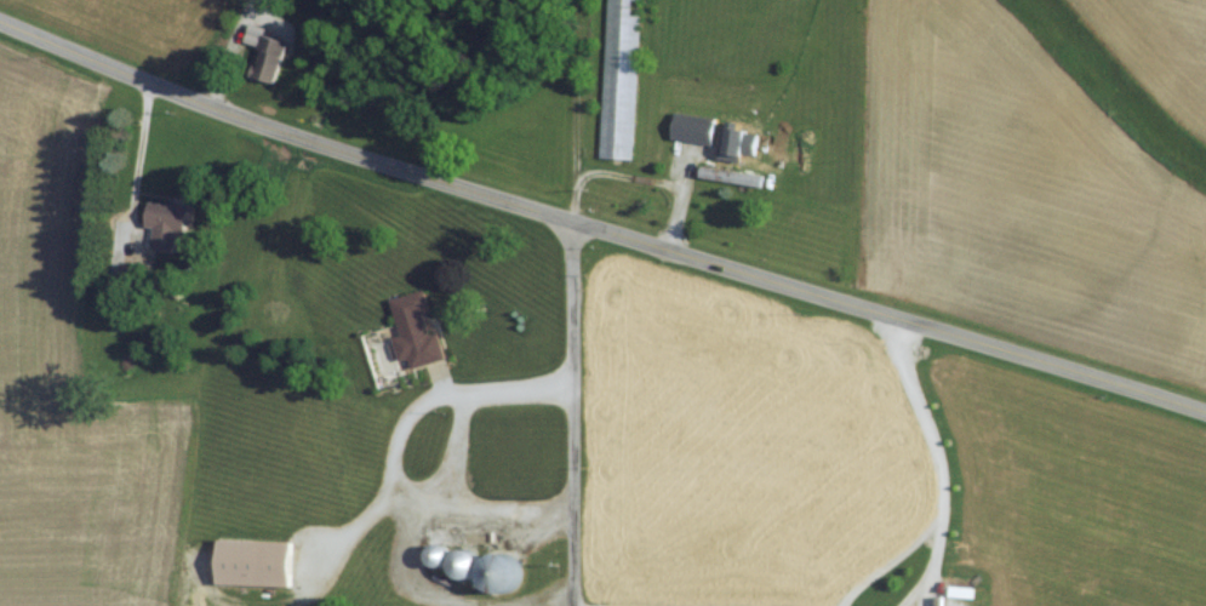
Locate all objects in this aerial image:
building: (257, 35)
building: (622, 78)
building: (697, 126)
building: (732, 175)
building: (170, 216)
road: (599, 229)
building: (418, 328)
road: (566, 412)
road: (451, 448)
road: (389, 456)
road: (937, 478)
road: (350, 528)
road: (932, 550)
building: (258, 562)
road: (441, 600)
road: (568, 605)

